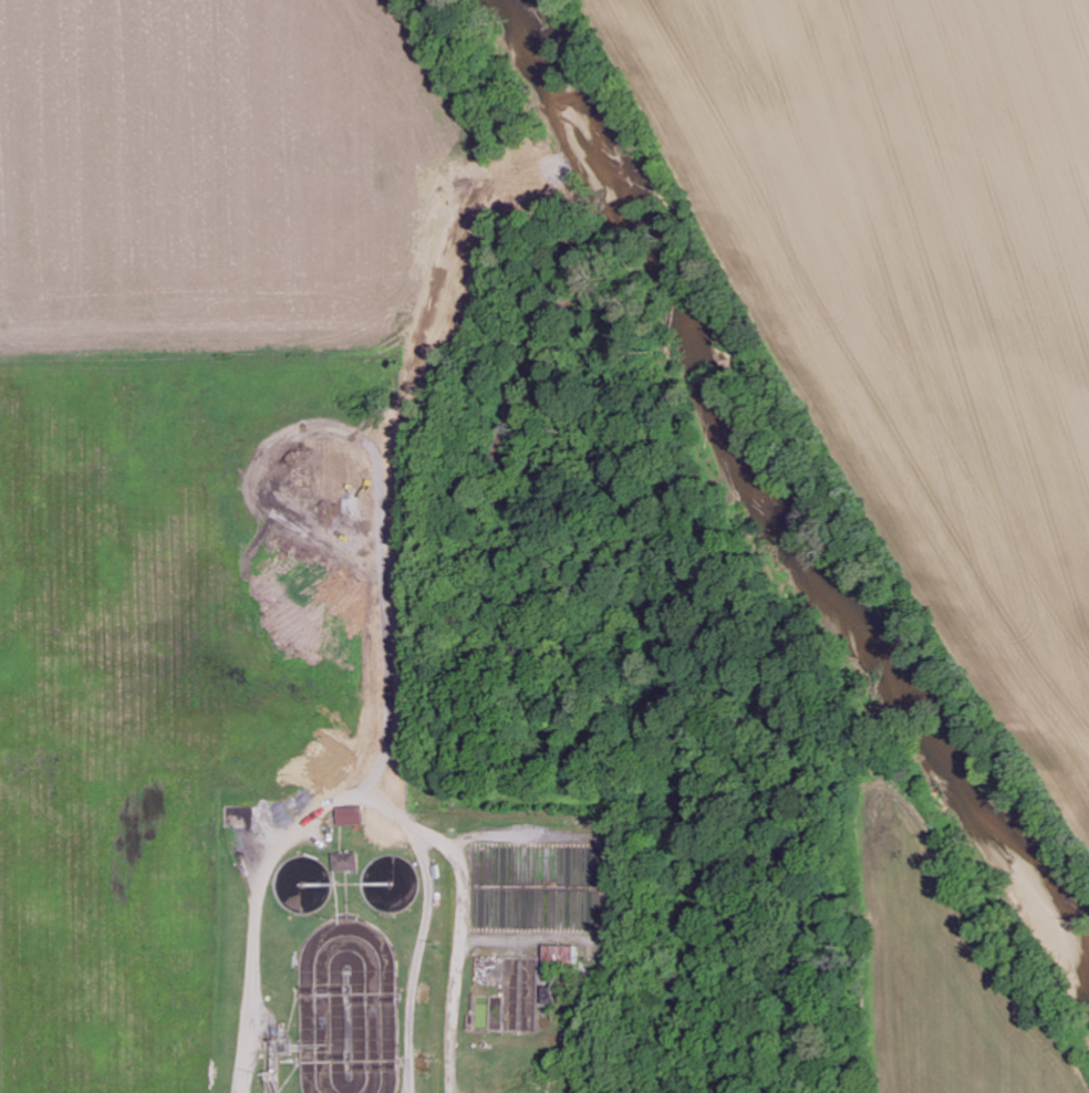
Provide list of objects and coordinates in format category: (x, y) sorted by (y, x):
building: (351, 815)
building: (345, 861)

